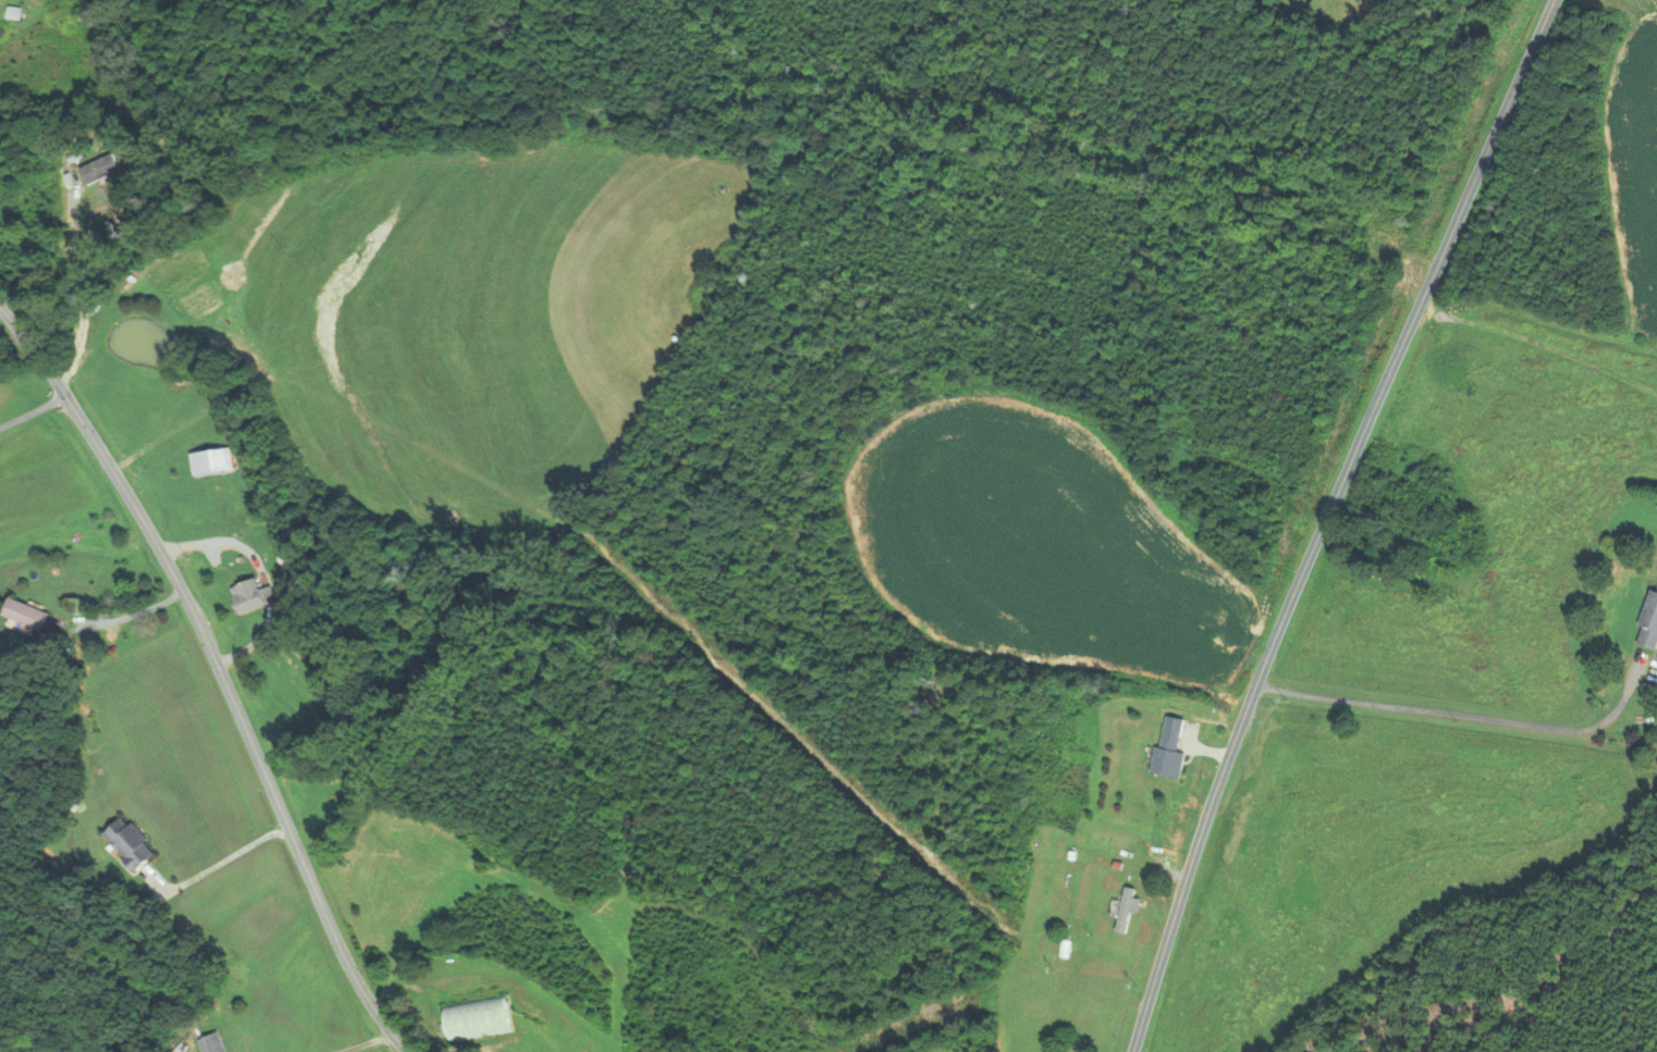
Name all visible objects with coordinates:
building: (93, 11)
building: (99, 168)
building: (1386, 242)
road: (82, 290)
road: (1539, 343)
road: (33, 410)
building: (211, 460)
road: (1324, 520)
building: (243, 528)
building: (253, 594)
building: (27, 611)
building: (1650, 623)
road: (219, 670)
road: (1471, 715)
building: (1105, 725)
building: (1180, 731)
building: (133, 842)
road: (219, 861)
building: (1128, 906)
building: (476, 1016)
building: (213, 1042)
road: (365, 1042)

